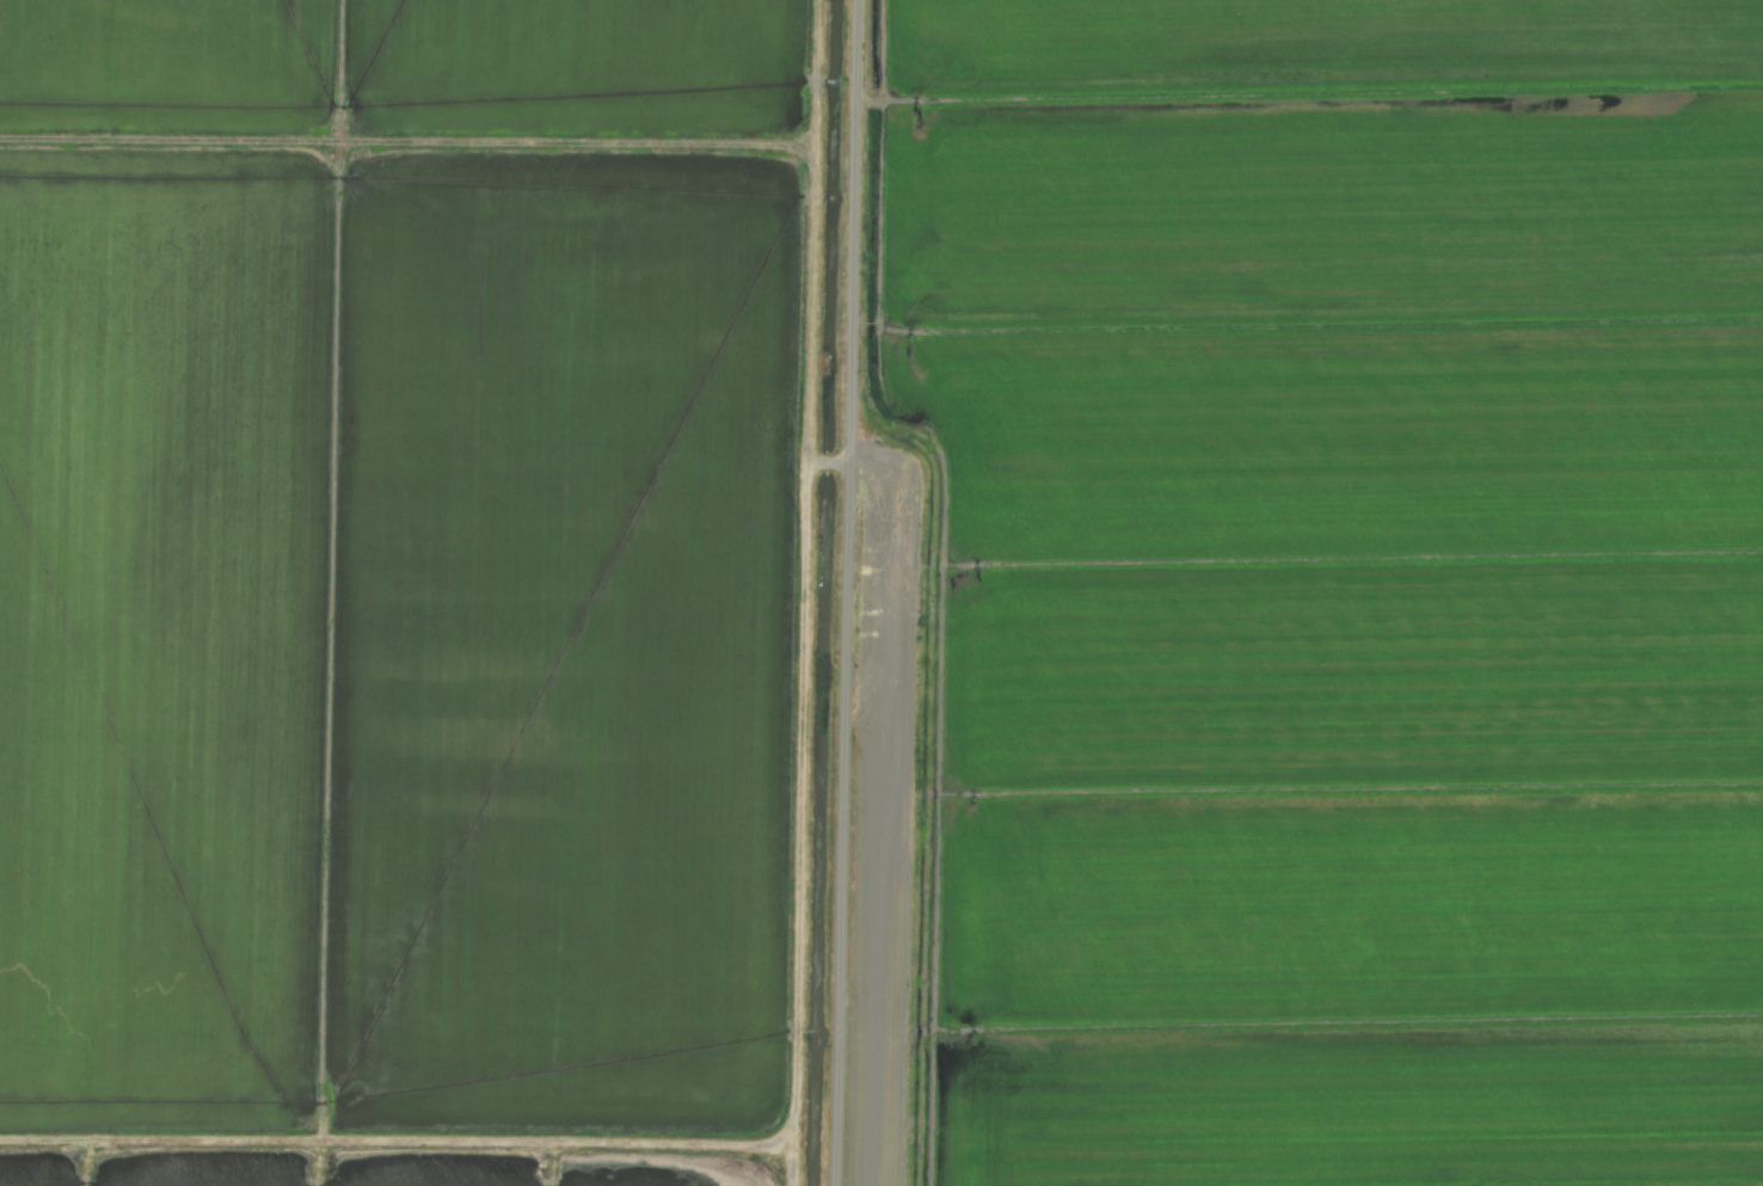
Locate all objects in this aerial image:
road: (843, 592)
crop: (881, 592)

